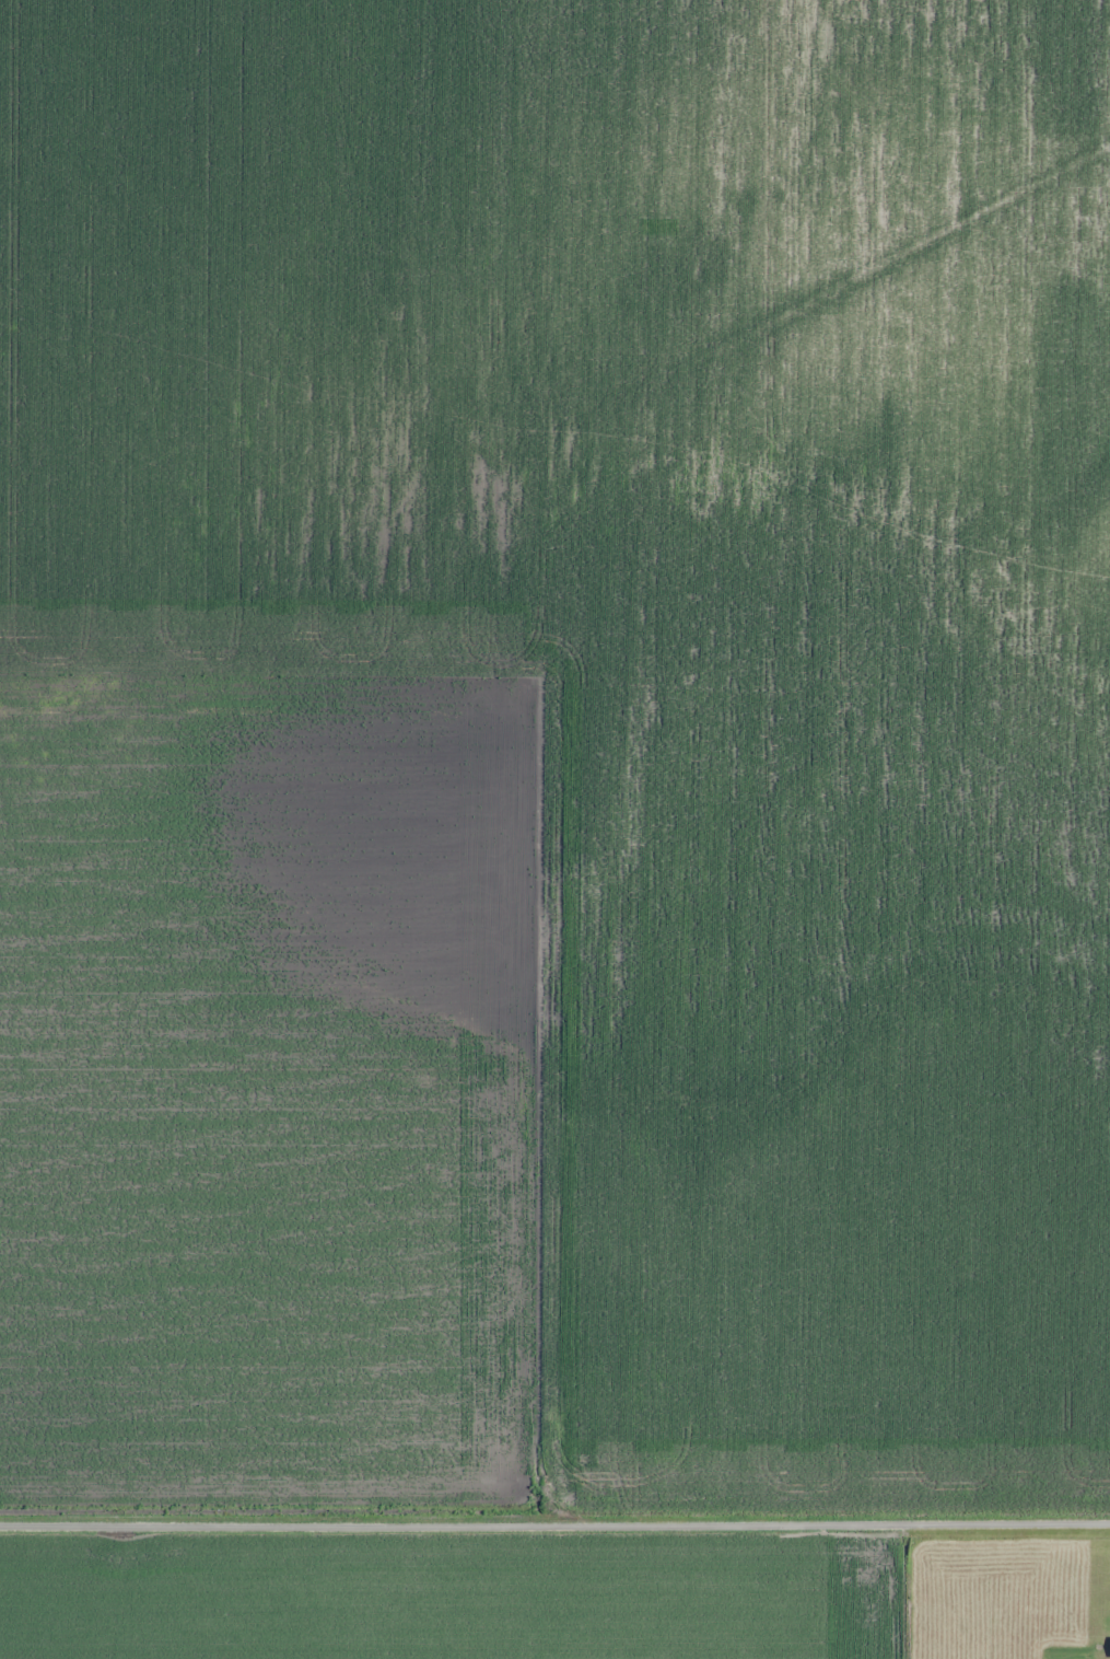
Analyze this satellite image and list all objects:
road: (554, 1546)

